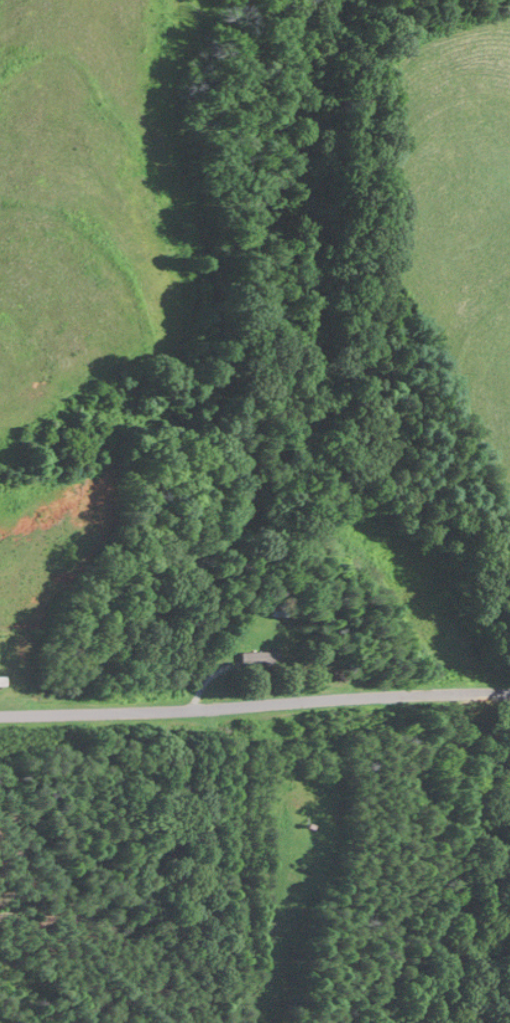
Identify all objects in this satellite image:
building: (255, 660)
building: (1, 682)
road: (254, 703)

